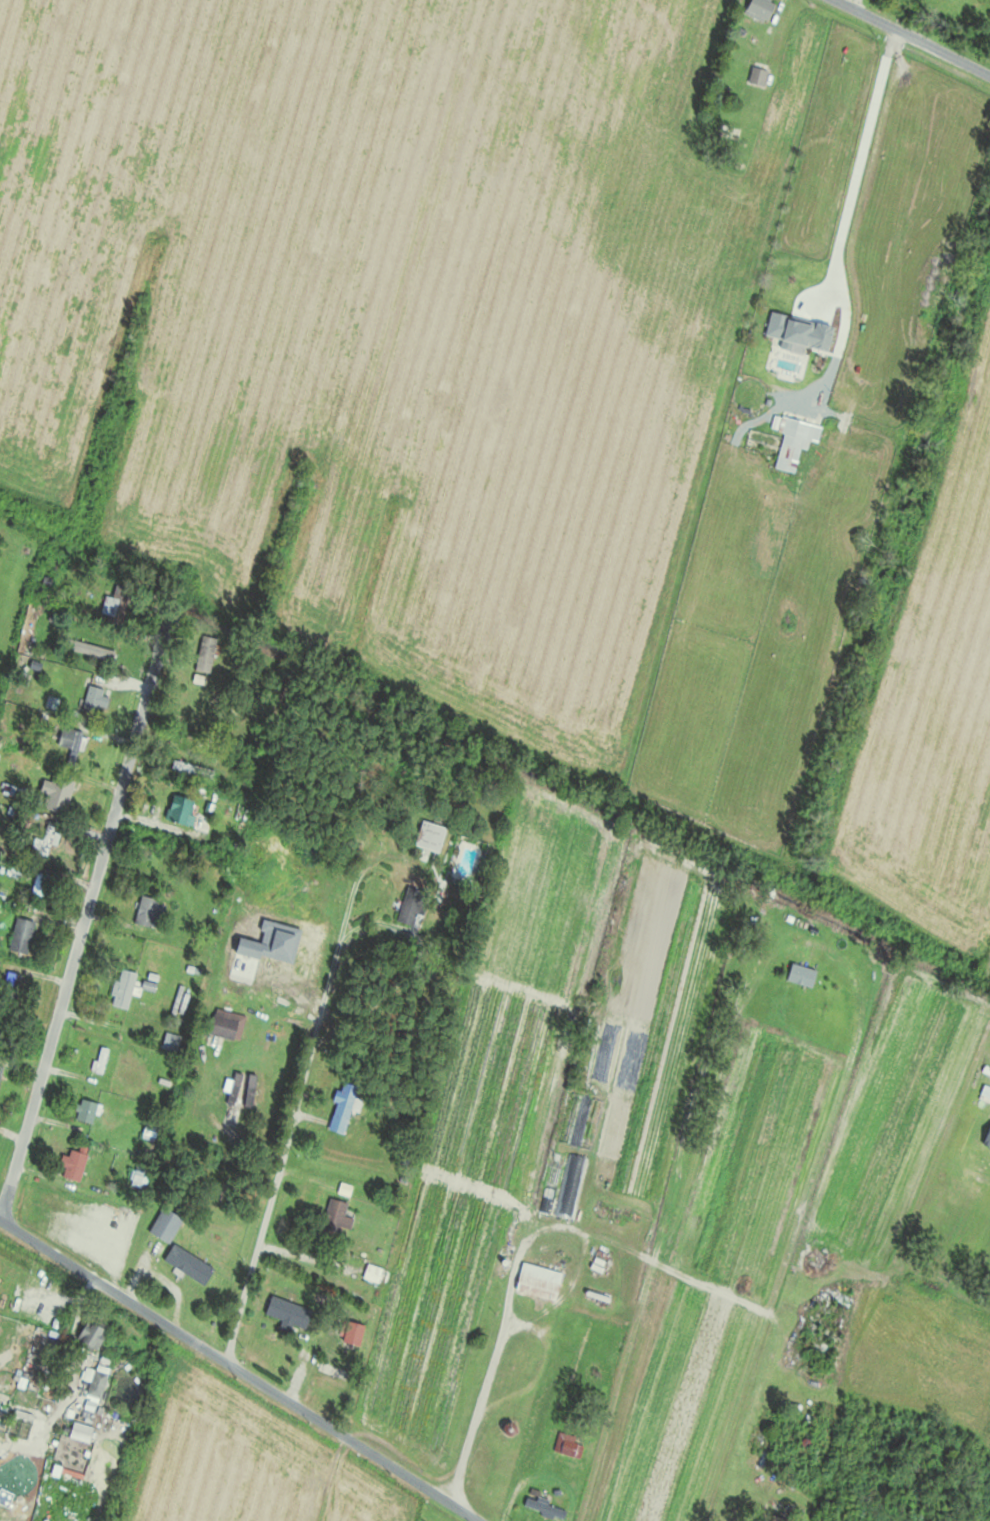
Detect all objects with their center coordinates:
building: (762, 9)
road: (912, 37)
building: (758, 76)
road: (860, 153)
building: (789, 329)
building: (795, 441)
building: (120, 603)
building: (94, 698)
building: (197, 701)
building: (72, 743)
building: (193, 768)
building: (59, 788)
building: (432, 835)
building: (45, 839)
building: (414, 907)
building: (150, 912)
road: (85, 915)
building: (23, 935)
building: (803, 975)
building: (12, 985)
building: (124, 988)
building: (225, 1027)
building: (172, 1041)
building: (102, 1060)
building: (1, 1072)
building: (239, 1089)
building: (345, 1100)
building: (87, 1111)
road: (289, 1116)
building: (151, 1131)
building: (76, 1163)
building: (335, 1215)
building: (168, 1225)
building: (190, 1265)
building: (373, 1274)
building: (540, 1282)
parking lot: (30, 1287)
road: (62, 1296)
building: (290, 1312)
building: (87, 1332)
building: (355, 1334)
road: (492, 1365)
road: (238, 1370)
building: (93, 1380)
building: (20, 1411)
building: (78, 1427)
building: (568, 1445)
road: (6, 1449)
crop: (244, 1461)
building: (546, 1506)

